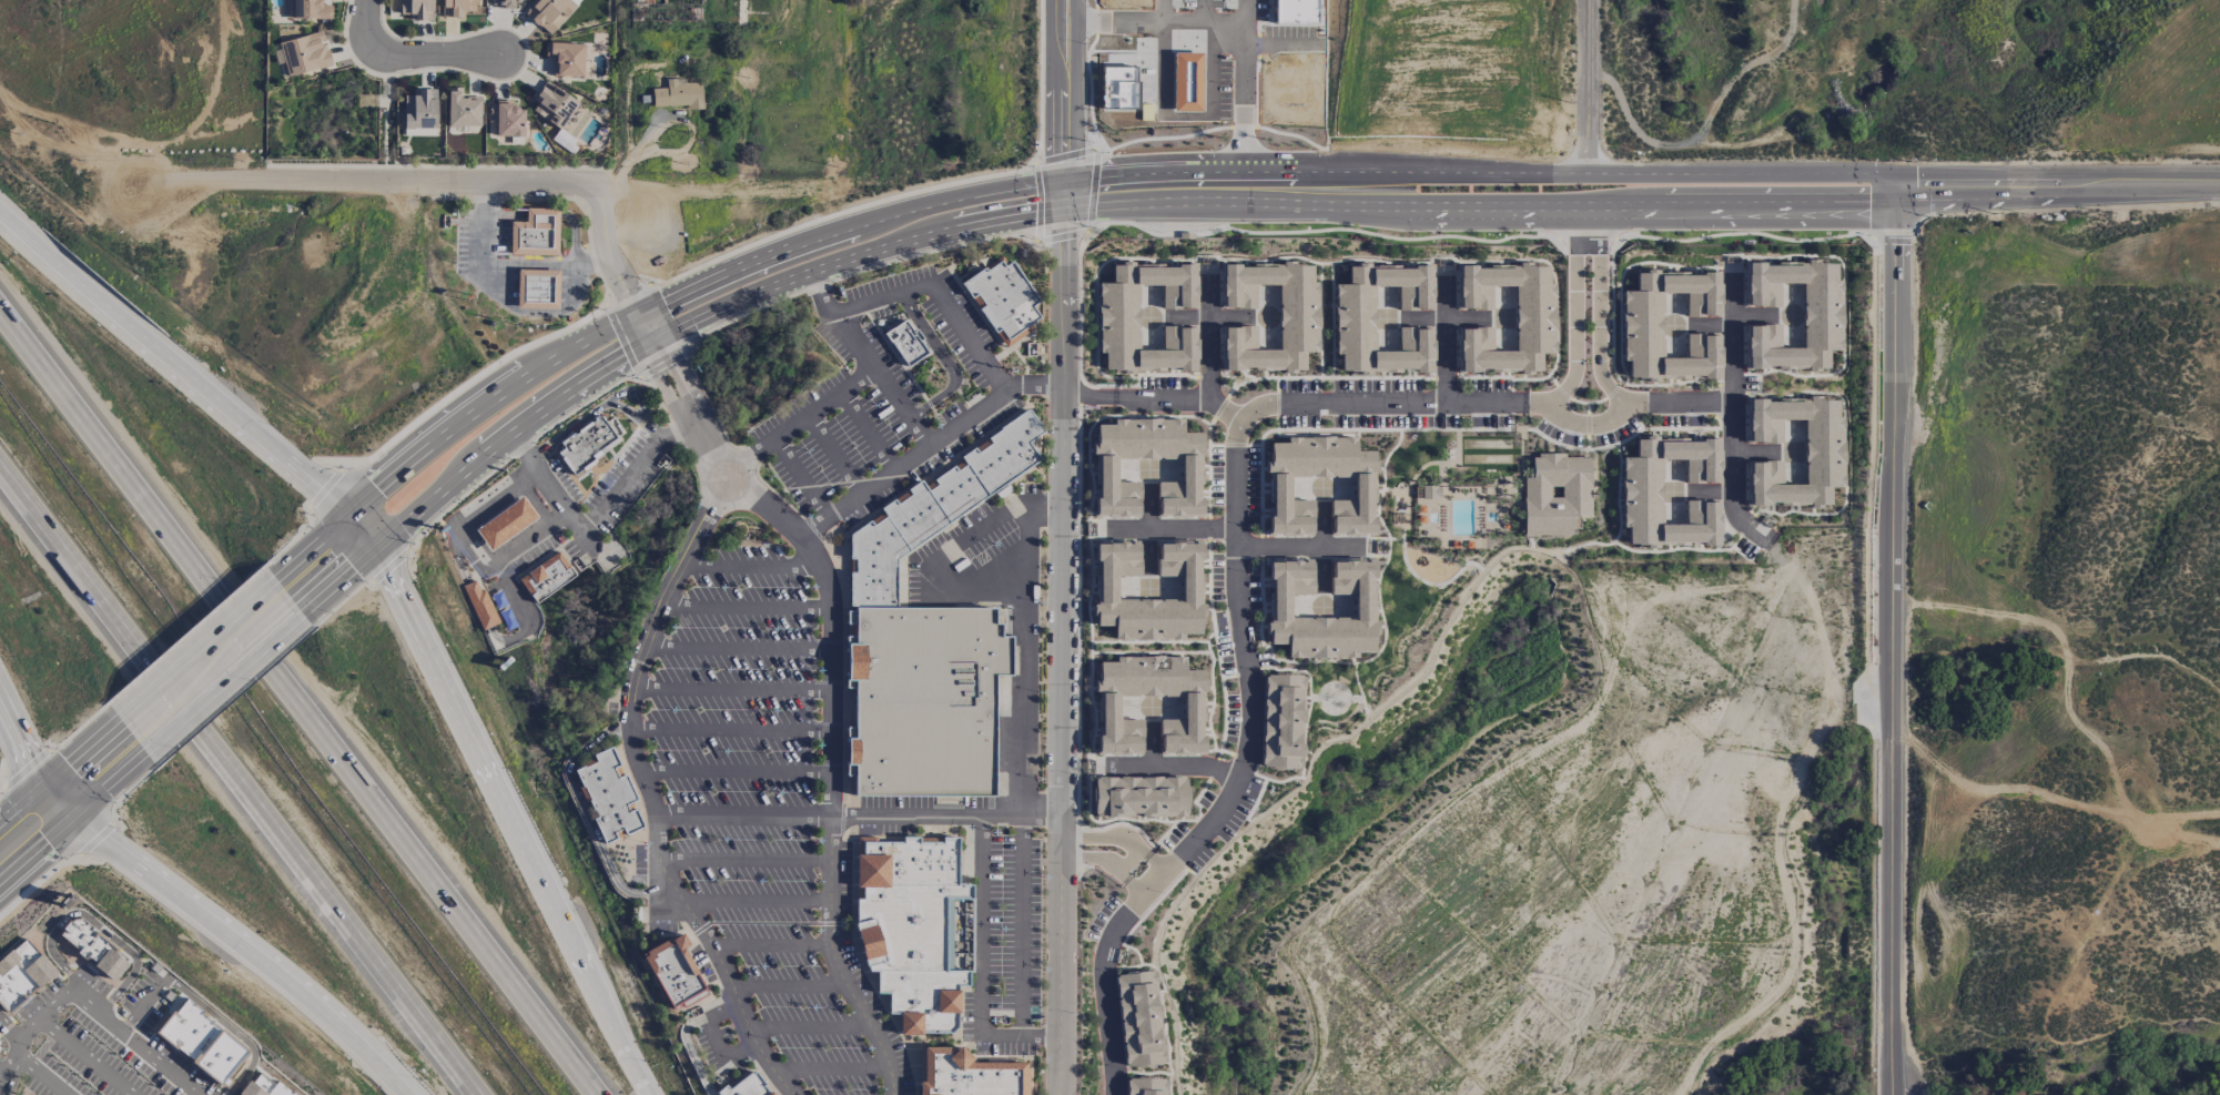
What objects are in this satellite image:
building: (503, 3)
building: (456, 8)
building: (306, 9)
building: (416, 9)
building: (549, 13)
road: (1147, 22)
road: (366, 24)
building: (303, 53)
road: (438, 55)
building: (566, 59)
road: (1042, 75)
road: (1240, 87)
road: (1589, 87)
road: (1058, 91)
building: (677, 94)
building: (553, 105)
building: (462, 109)
road: (387, 110)
building: (419, 111)
building: (507, 120)
road: (633, 151)
road: (432, 166)
road: (1025, 170)
road: (1481, 173)
road: (2059, 174)
traffic signals: (1065, 182)
road: (459, 183)
road: (1899, 187)
road: (576, 196)
road: (1065, 196)
road: (2059, 196)
road: (491, 199)
road: (1482, 206)
road: (839, 213)
road: (504, 214)
road: (541, 214)
road: (847, 227)
building: (535, 232)
road: (574, 235)
parking lot: (483, 242)
road: (509, 250)
road: (592, 254)
road: (855, 257)
road: (507, 266)
road: (666, 285)
building: (536, 287)
road: (626, 293)
building: (1003, 300)
building: (1822, 315)
road: (599, 316)
building: (1117, 317)
building: (1298, 317)
building: (1354, 318)
building: (1534, 318)
building: (1641, 325)
traffic signals: (649, 326)
road: (1588, 332)
road: (964, 333)
road: (621, 342)
road: (1447, 343)
building: (905, 345)
road: (949, 361)
road: (1210, 364)
road: (173, 365)
road: (478, 378)
road: (648, 379)
road: (1732, 382)
road: (850, 385)
road: (1035, 386)
road: (632, 393)
road: (1089, 393)
road: (655, 394)
road: (1163, 396)
road: (1618, 398)
road: (686, 404)
road: (598, 410)
road: (615, 418)
road: (642, 420)
road: (447, 429)
road: (868, 432)
building: (585, 445)
road: (517, 452)
building: (1823, 452)
road: (611, 453)
road: (834, 455)
road: (374, 460)
road: (905, 463)
road: (470, 465)
road: (566, 469)
building: (1190, 470)
road: (635, 472)
road: (602, 475)
road: (1733, 477)
road: (802, 479)
road: (610, 484)
road: (325, 488)
road: (550, 488)
building: (1278, 488)
building: (1430, 491)
building: (1640, 491)
building: (1555, 494)
parking lot: (601, 500)
traffic signals: (345, 516)
building: (506, 525)
gas station: (506, 525)
road: (1175, 528)
road: (308, 529)
road: (359, 531)
road: (472, 544)
road: (286, 546)
road: (1299, 546)
traffic signals: (374, 548)
road: (570, 558)
road: (753, 565)
road: (389, 566)
road: (408, 575)
building: (547, 577)
road: (361, 581)
building: (1105, 587)
road: (339, 605)
building: (481, 606)
building: (1364, 606)
road: (749, 607)
road: (186, 635)
road: (494, 636)
road: (1243, 638)
building: (929, 643)
road: (740, 646)
road: (1900, 647)
road: (197, 650)
road: (1062, 653)
road: (221, 681)
road: (732, 689)
road: (234, 696)
building: (1107, 707)
road: (297, 708)
building: (1281, 721)
road: (82, 726)
road: (732, 730)
road: (58, 749)
road: (83, 752)
road: (1023, 756)
road: (28, 764)
road: (26, 767)
road: (1179, 768)
road: (737, 772)
road: (7, 777)
road: (136, 781)
road: (237, 781)
road: (108, 782)
traffic signals: (47, 784)
road: (121, 795)
building: (1139, 797)
building: (609, 798)
road: (501, 803)
road: (23, 804)
traffic signals: (73, 813)
road: (945, 818)
road: (589, 819)
road: (756, 819)
road: (97, 840)
road: (37, 845)
road: (1102, 849)
road: (100, 859)
road: (744, 860)
road: (1145, 876)
road: (27, 890)
road: (757, 901)
road: (95, 923)
road: (983, 925)
building: (913, 930)
building: (88, 942)
road: (247, 946)
road: (772, 946)
road: (719, 959)
road: (837, 963)
building: (21, 973)
building: (676, 973)
road: (791, 987)
road: (139, 1005)
road: (723, 1013)
building: (1138, 1018)
road: (109, 1020)
road: (810, 1027)
road: (10, 1032)
road: (1021, 1034)
building: (202, 1042)
road: (18, 1043)
road: (692, 1052)
road: (721, 1054)
road: (84, 1055)
road: (833, 1068)
road: (2, 1072)
road: (4, 1072)
road: (2201, 1076)
road: (639, 1077)
building: (969, 1077)
road: (37, 1078)
building: (747, 1086)
building: (1144, 1086)
building: (265, 1087)

